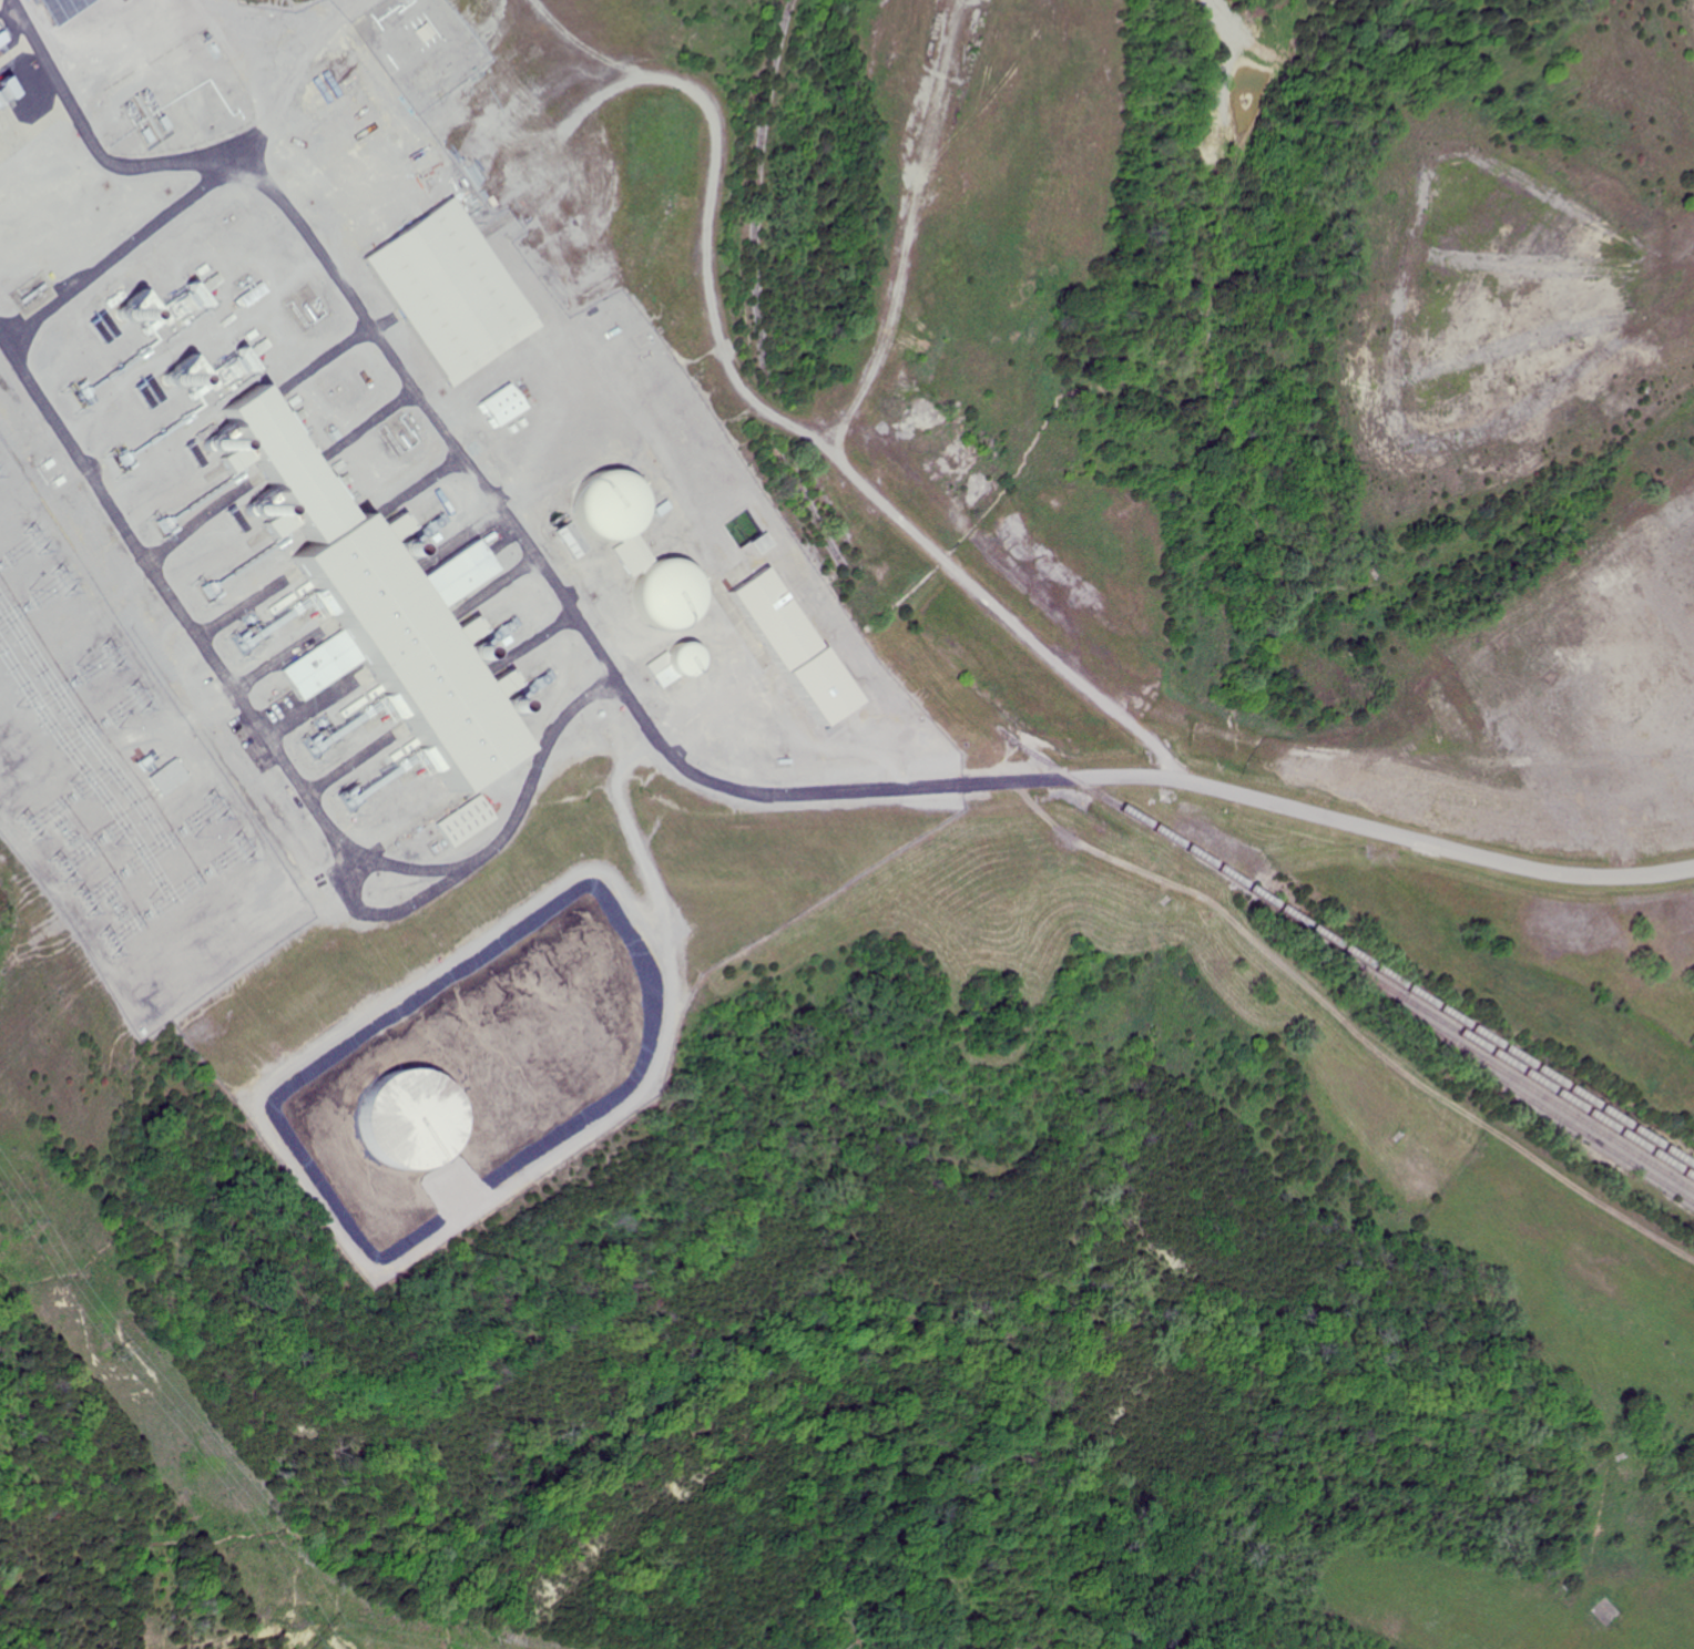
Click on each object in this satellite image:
building: (38, 8)
building: (0, 92)
building: (443, 290)
building: (169, 310)
chimney: (121, 313)
chimney: (170, 380)
power tower: (62, 401)
building: (493, 403)
chimney: (217, 443)
building: (229, 460)
power tower: (104, 467)
chimney: (258, 511)
building: (275, 525)
power tower: (154, 529)
building: (406, 529)
power tower: (27, 539)
building: (564, 541)
chimney: (419, 546)
building: (632, 551)
power tower: (52, 577)
power tower: (196, 594)
building: (368, 607)
building: (456, 635)
building: (778, 644)
power tower: (229, 647)
chimney: (492, 648)
power tower: (106, 655)
building: (671, 664)
building: (493, 687)
power tower: (136, 696)
chimney: (528, 701)
power tower: (302, 749)
road: (665, 752)
building: (164, 778)
power substation: (119, 795)
power tower: (336, 803)
power tower: (212, 806)
building: (466, 821)
power tower: (21, 824)
power tower: (241, 847)
power tower: (49, 863)
power tower: (75, 900)
power tower: (102, 941)
railway: (1361, 969)
railway: (1476, 1025)
railway: (1525, 1068)
railway: (1562, 1103)
power tower: (106, 1349)
power tower: (320, 1635)

